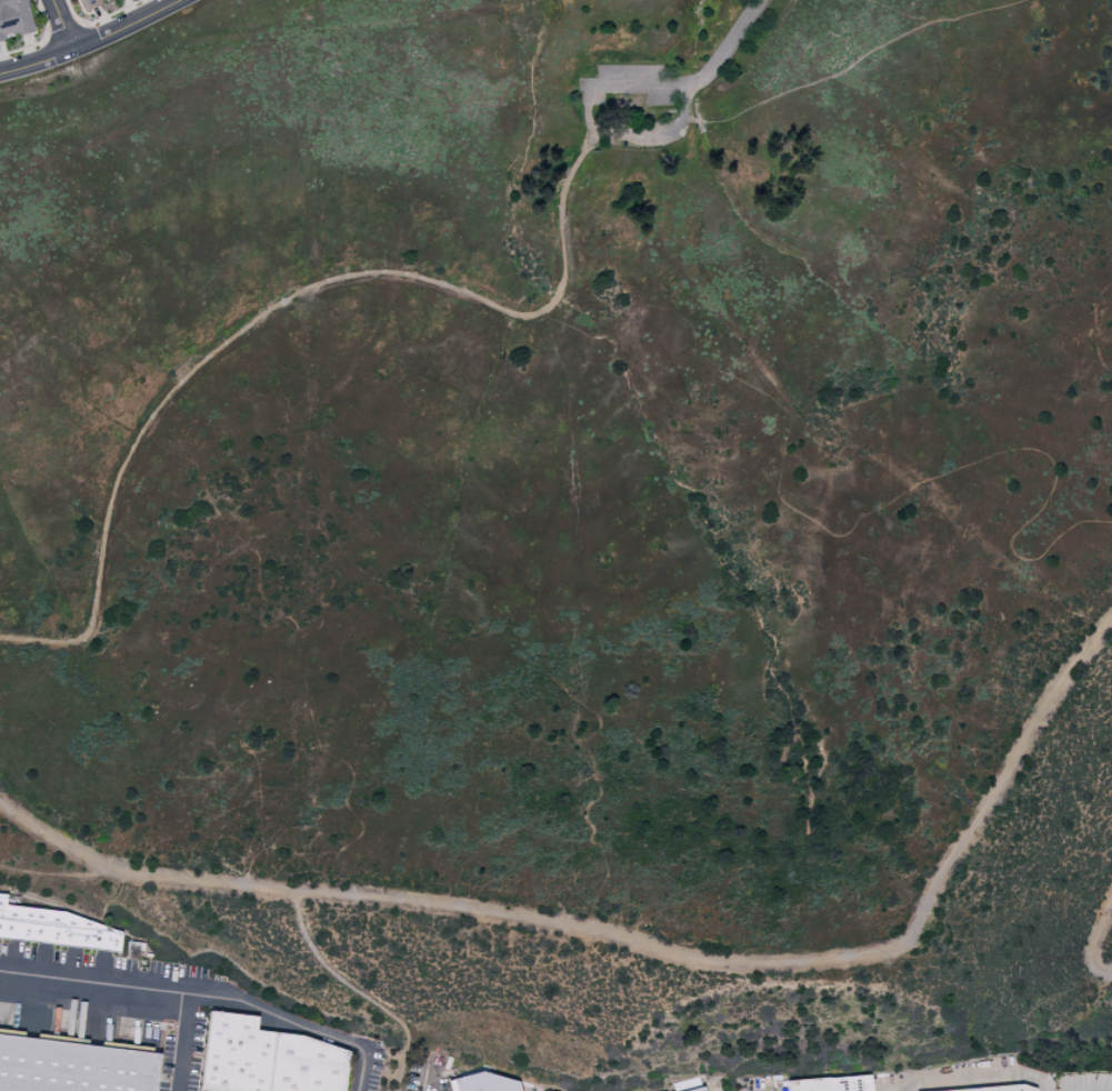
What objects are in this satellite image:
building: (92, 3)
building: (16, 18)
road: (951, 21)
road: (61, 26)
road: (91, 42)
road: (731, 49)
parking lot: (628, 82)
road: (811, 83)
road: (630, 88)
road: (640, 136)
road: (269, 309)
building: (56, 929)
road: (1095, 939)
road: (638, 942)
road: (358, 991)
road: (206, 993)
building: (119, 1017)
building: (90, 1019)
road: (186, 1041)
building: (266, 1059)
building: (72, 1067)
road: (431, 1083)
building: (481, 1083)
building: (850, 1083)
road: (974, 1084)
building: (809, 1085)
road: (898, 1088)
building: (998, 1088)
building: (689, 1089)
building: (671, 1090)
building: (698, 1090)

